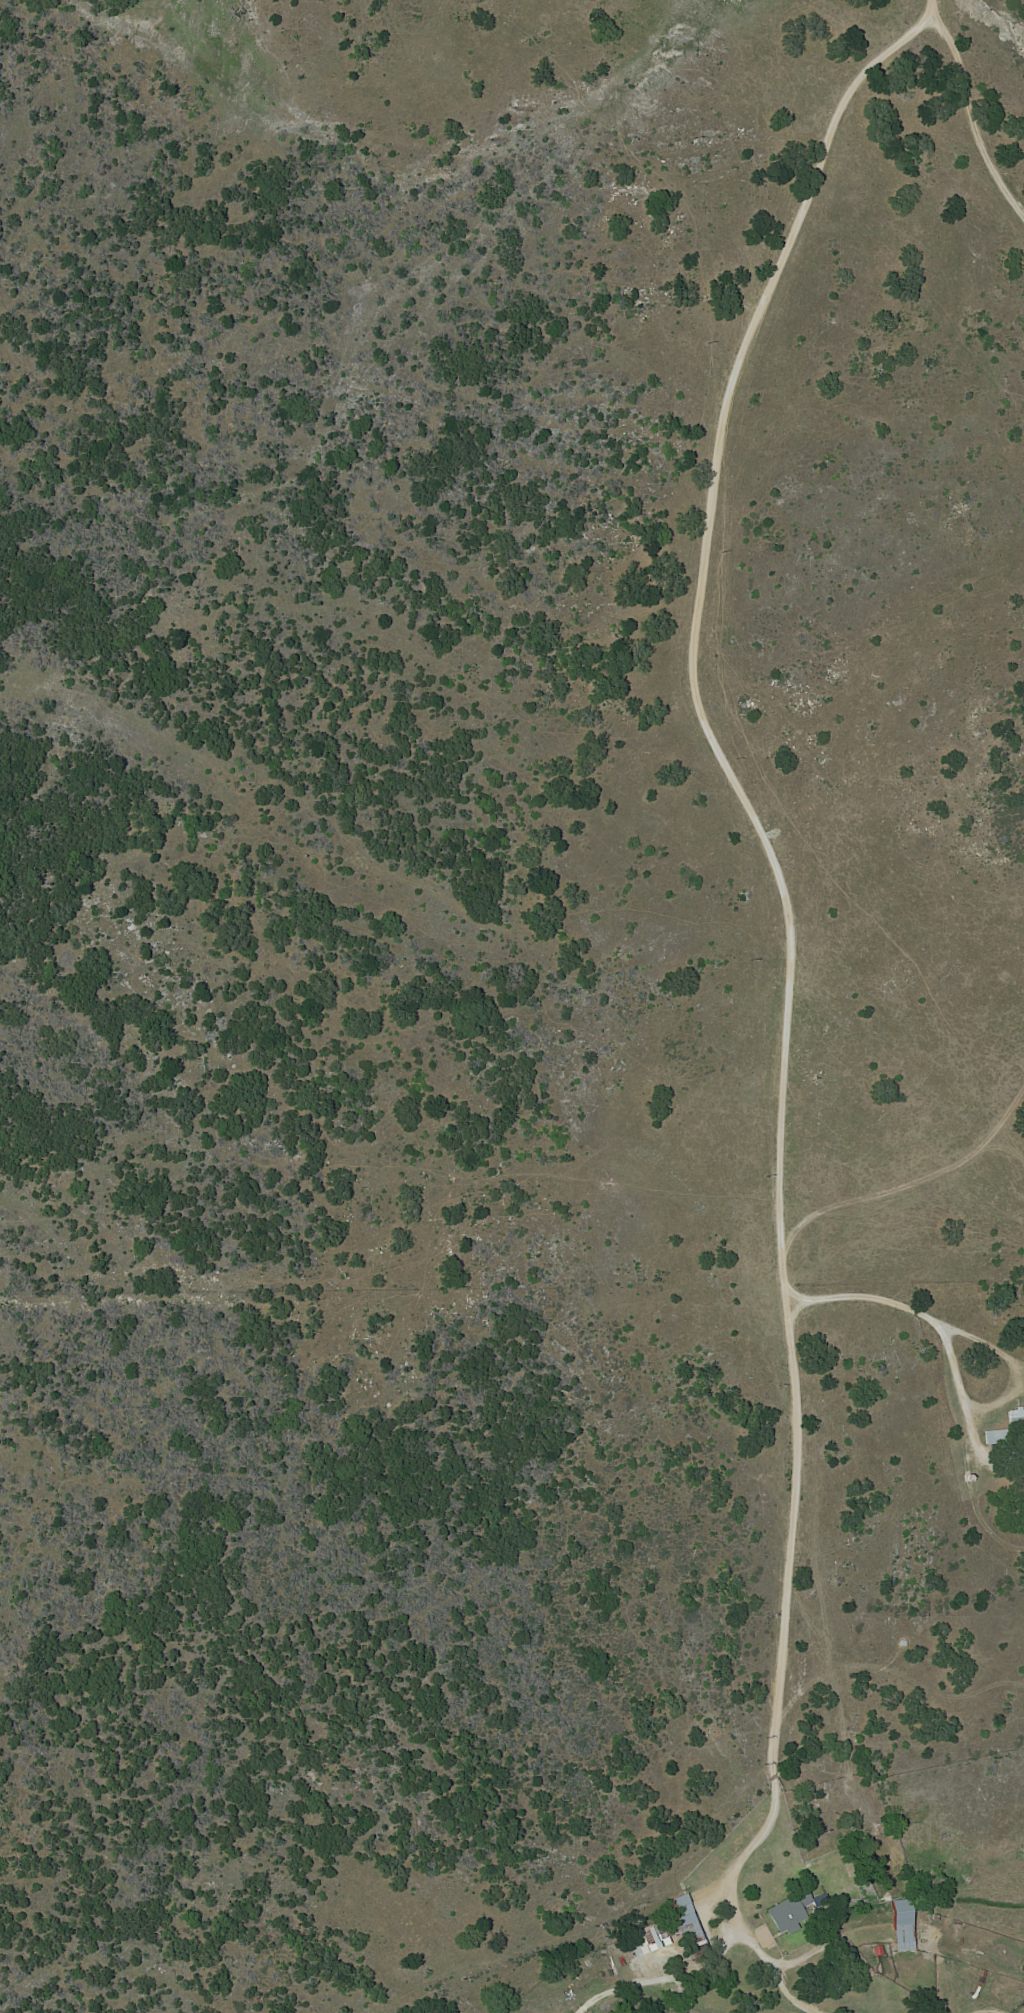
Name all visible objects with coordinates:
road: (970, 120)
road: (782, 898)
road: (909, 1308)
building: (1008, 1428)
building: (788, 1912)
building: (902, 1926)
building: (667, 1928)

